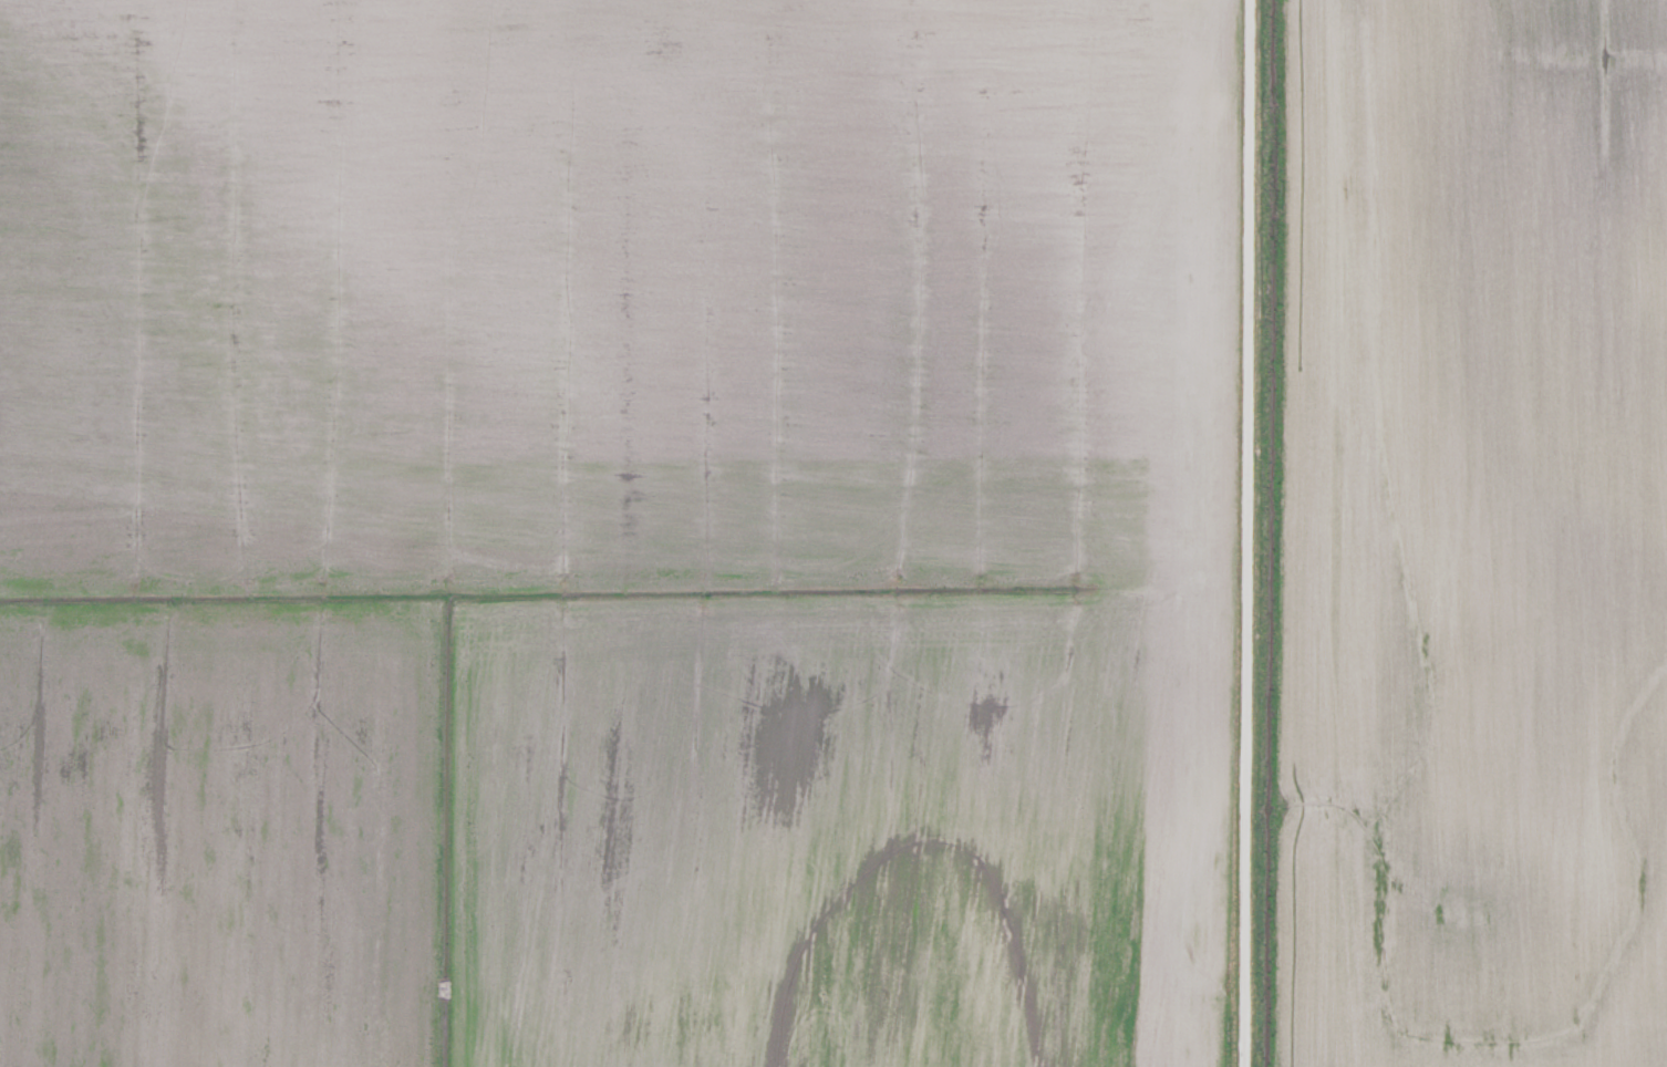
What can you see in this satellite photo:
road: (1194, 533)

